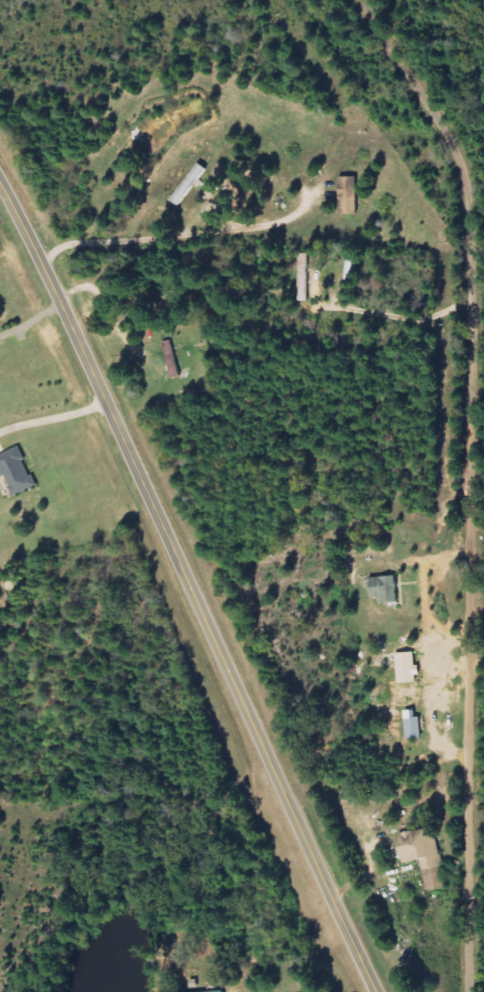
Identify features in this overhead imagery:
building: (189, 185)
building: (349, 196)
building: (16, 472)
road: (424, 485)
road: (192, 583)
building: (385, 589)
building: (408, 671)
building: (413, 725)
building: (425, 856)
road: (421, 957)
building: (221, 991)

